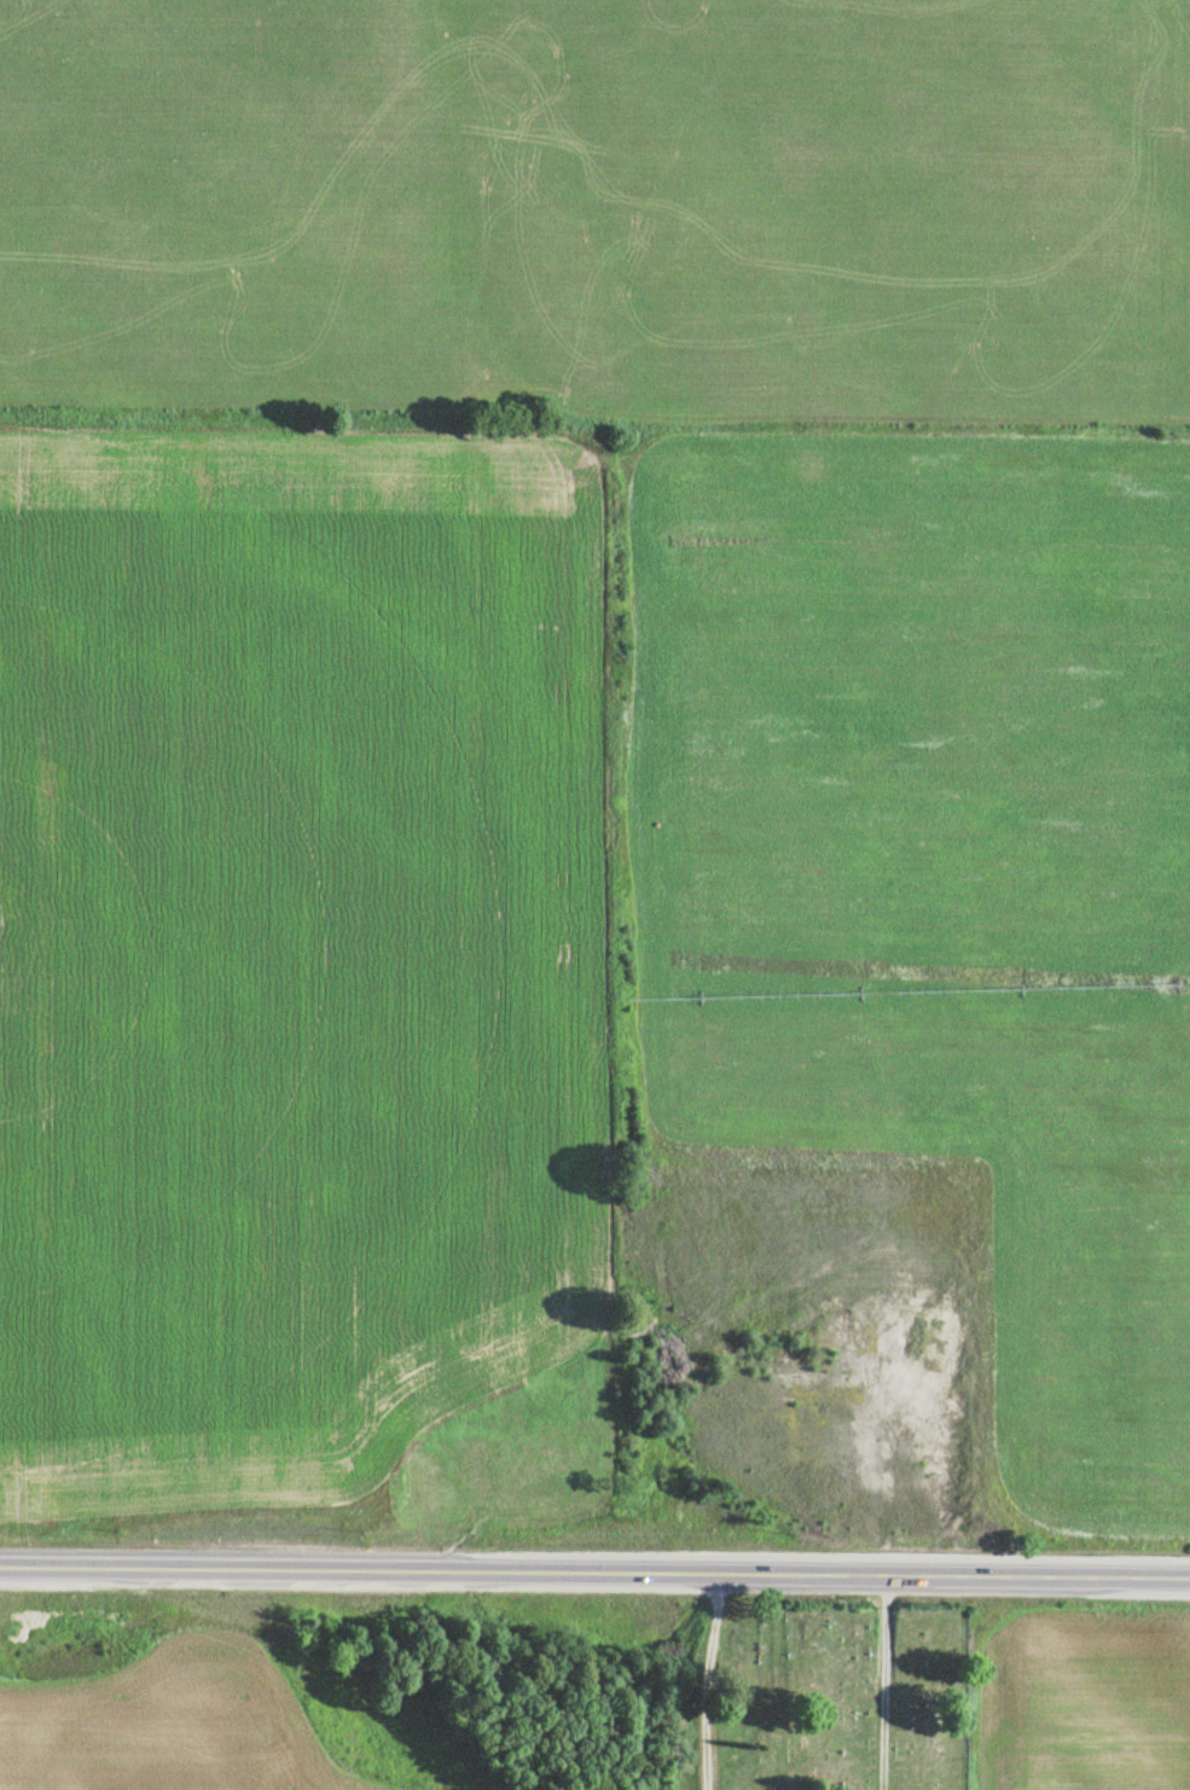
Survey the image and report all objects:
road: (594, 1570)
park: (796, 1693)

